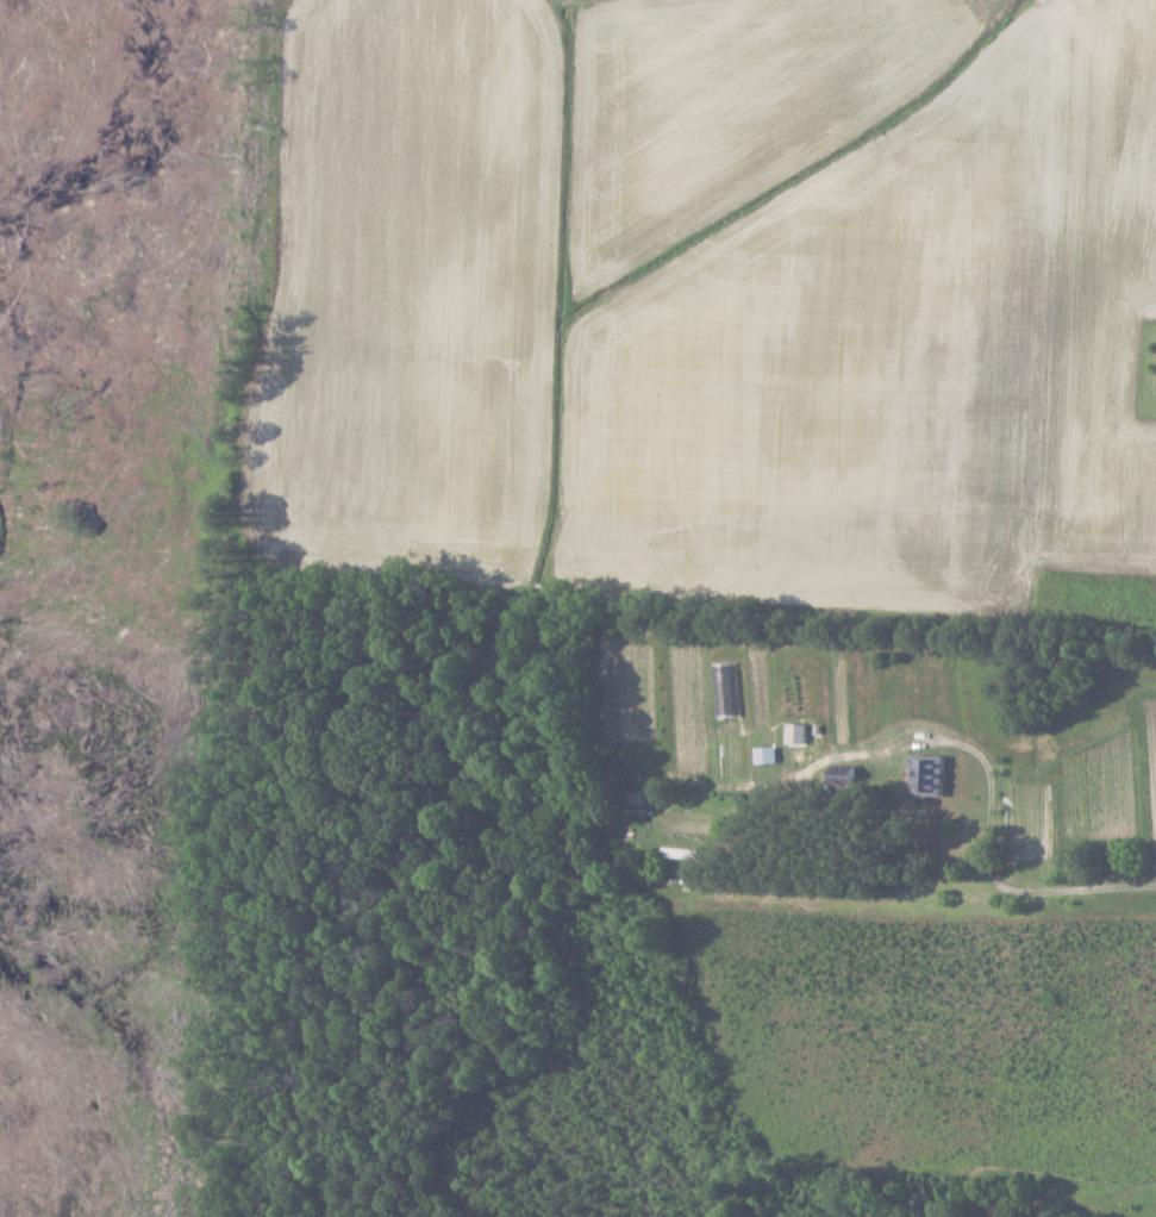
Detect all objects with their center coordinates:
building: (768, 754)
building: (930, 772)
building: (845, 773)
road: (1027, 881)

